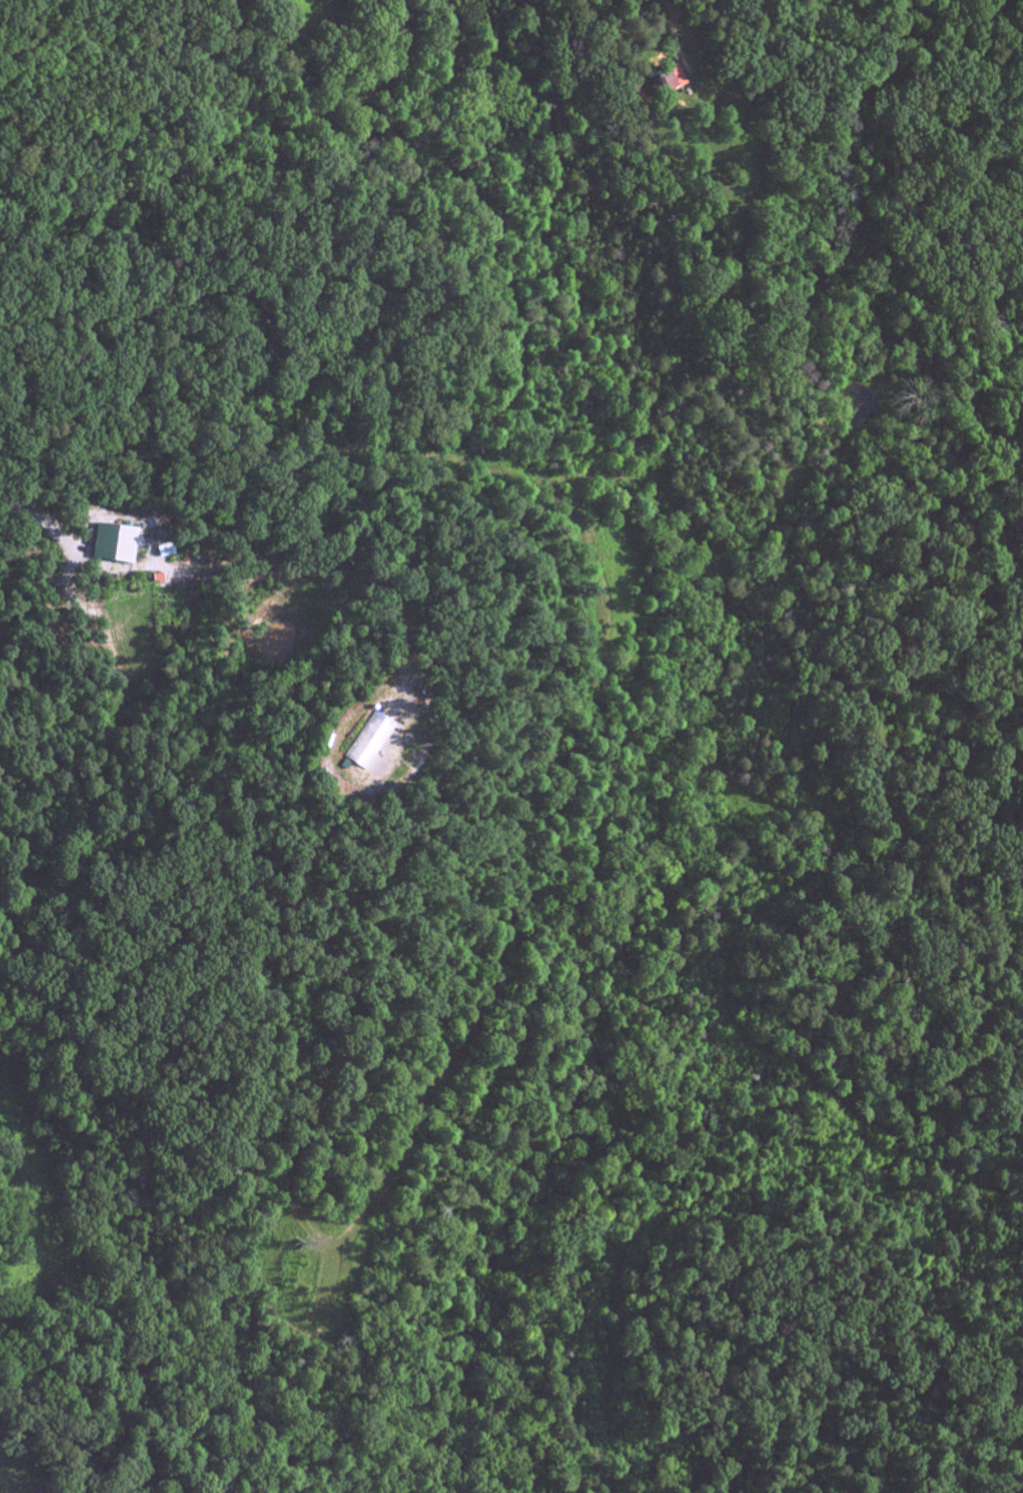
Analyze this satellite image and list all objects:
building: (668, 82)
road: (25, 514)
building: (113, 545)
building: (164, 552)
building: (357, 741)

